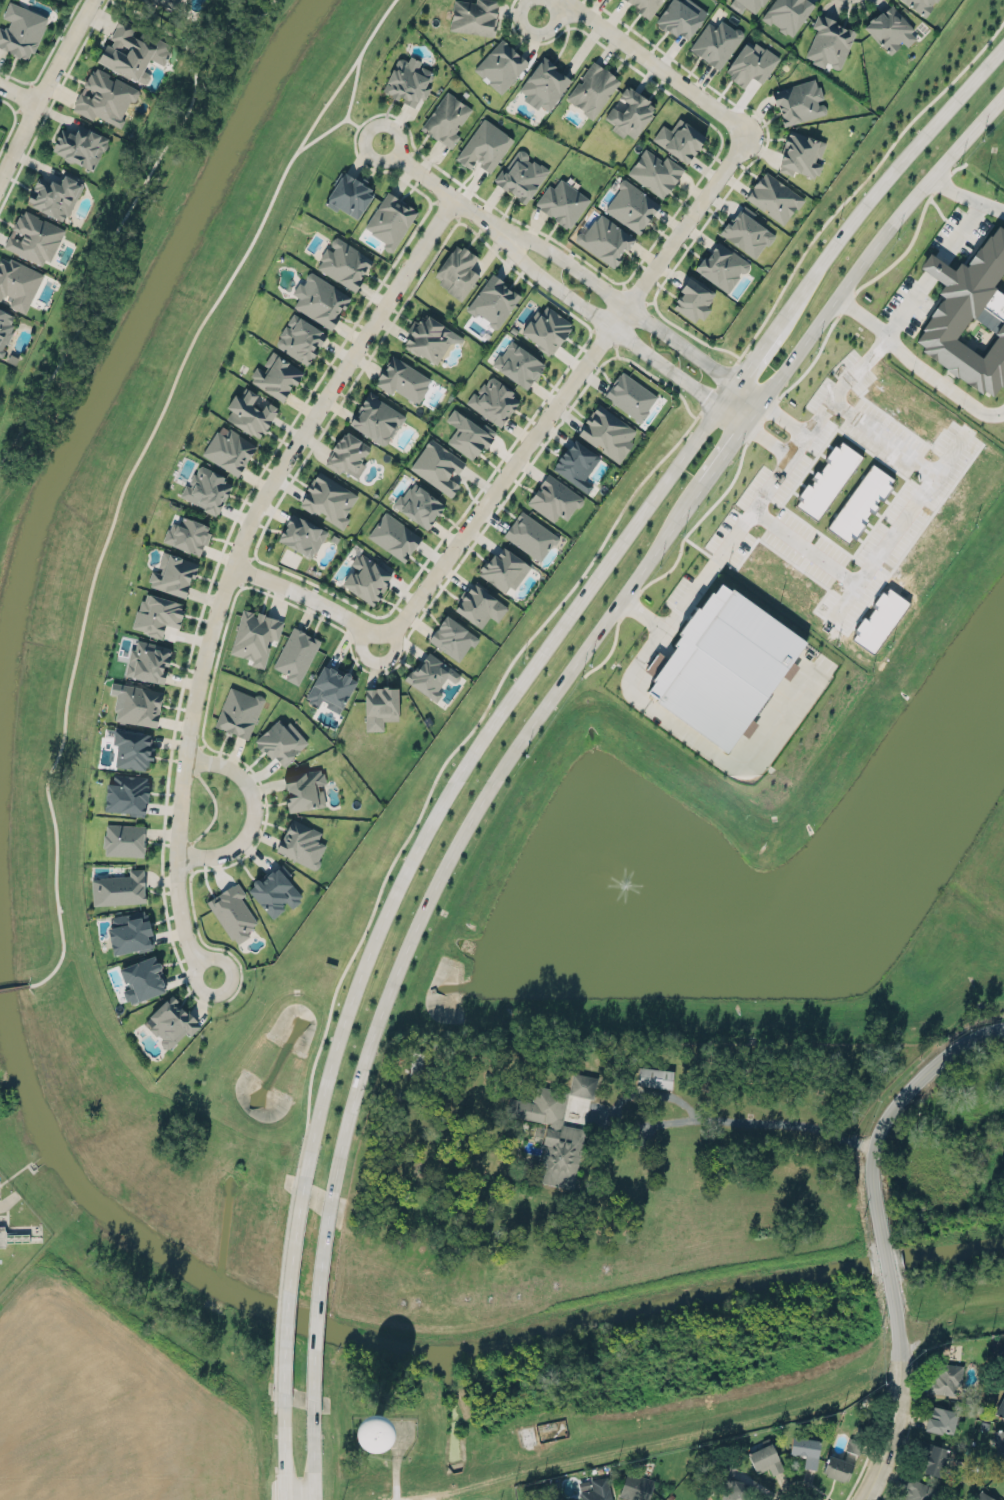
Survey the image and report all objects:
building: (148, 1)
building: (169, 2)
building: (752, 3)
road: (852, 5)
building: (921, 5)
building: (646, 7)
building: (787, 14)
building: (474, 15)
building: (680, 15)
building: (890, 26)
building: (21, 28)
road: (538, 31)
building: (717, 40)
building: (829, 40)
road: (191, 49)
building: (133, 50)
road: (193, 53)
building: (750, 63)
building: (501, 64)
road: (656, 64)
building: (408, 81)
road: (355, 82)
building: (544, 85)
road: (44, 87)
road: (665, 88)
building: (592, 89)
road: (18, 95)
building: (105, 95)
road: (52, 101)
building: (799, 102)
road: (349, 108)
building: (630, 113)
building: (446, 117)
road: (12, 121)
road: (334, 128)
building: (679, 140)
building: (80, 146)
building: (484, 146)
building: (801, 153)
road: (420, 158)
building: (655, 172)
building: (521, 173)
road: (882, 182)
road: (436, 183)
building: (350, 192)
building: (54, 196)
building: (774, 196)
road: (438, 201)
building: (563, 201)
road: (964, 201)
building: (631, 205)
building: (390, 218)
road: (958, 227)
building: (747, 230)
building: (34, 236)
building: (605, 238)
road: (871, 248)
road: (97, 257)
building: (344, 261)
building: (721, 265)
building: (457, 271)
building: (17, 284)
road: (624, 284)
road: (634, 294)
road: (618, 297)
building: (321, 298)
building: (691, 298)
building: (493, 301)
road: (649, 301)
road: (901, 307)
building: (971, 313)
road: (601, 319)
building: (547, 327)
building: (5, 328)
road: (592, 329)
road: (688, 331)
road: (605, 335)
building: (427, 338)
building: (299, 339)
river: (131, 342)
road: (617, 349)
road: (755, 355)
road: (736, 361)
building: (519, 362)
road: (916, 365)
building: (276, 376)
building: (402, 379)
road: (718, 387)
road: (566, 391)
road: (728, 393)
building: (630, 396)
road: (744, 397)
building: (492, 399)
road: (737, 408)
building: (250, 411)
road: (699, 412)
building: (376, 417)
building: (607, 429)
road: (774, 429)
building: (465, 431)
road: (727, 448)
building: (229, 449)
road: (902, 450)
building: (347, 455)
building: (576, 464)
building: (437, 466)
road: (133, 467)
building: (827, 480)
building: (207, 488)
building: (328, 497)
building: (555, 497)
building: (861, 502)
road: (754, 504)
building: (418, 505)
building: (188, 533)
building: (302, 533)
building: (530, 534)
building: (393, 536)
road: (885, 545)
road: (804, 547)
road: (252, 557)
road: (233, 563)
road: (244, 570)
building: (503, 570)
building: (173, 572)
building: (367, 576)
road: (241, 584)
road: (311, 600)
building: (479, 602)
building: (157, 613)
building: (879, 620)
building: (255, 635)
building: (453, 636)
building: (296, 654)
building: (149, 661)
building: (722, 666)
road: (640, 667)
building: (790, 670)
building: (431, 675)
building: (330, 688)
building: (139, 704)
building: (381, 705)
building: (238, 712)
building: (281, 740)
road: (203, 745)
building: (132, 749)
road: (198, 759)
road: (463, 767)
building: (304, 790)
building: (127, 792)
road: (215, 809)
road: (252, 813)
road: (473, 815)
building: (123, 838)
building: (302, 842)
road: (189, 855)
road: (386, 866)
road: (191, 869)
fountain: (619, 880)
building: (119, 889)
building: (275, 890)
road: (191, 892)
building: (233, 911)
building: (130, 932)
building: (141, 974)
road: (21, 987)
building: (171, 1020)
building: (654, 1077)
building: (582, 1085)
road: (758, 1121)
building: (552, 1134)
road: (881, 1235)
river: (953, 1247)
river: (886, 1260)
road: (287, 1289)
road: (317, 1299)
road: (947, 1312)
river: (330, 1326)
building: (947, 1378)
building: (1001, 1407)
building: (941, 1420)
water tower: (372, 1433)
building: (999, 1443)
building: (852, 1446)
building: (806, 1449)
road: (283, 1450)
road: (313, 1454)
building: (766, 1458)
building: (934, 1460)
building: (837, 1468)
road: (396, 1483)
building: (637, 1486)
building: (595, 1489)
building: (739, 1490)
building: (916, 1490)
road: (799, 1492)
building: (982, 1497)
road: (260, 1499)

